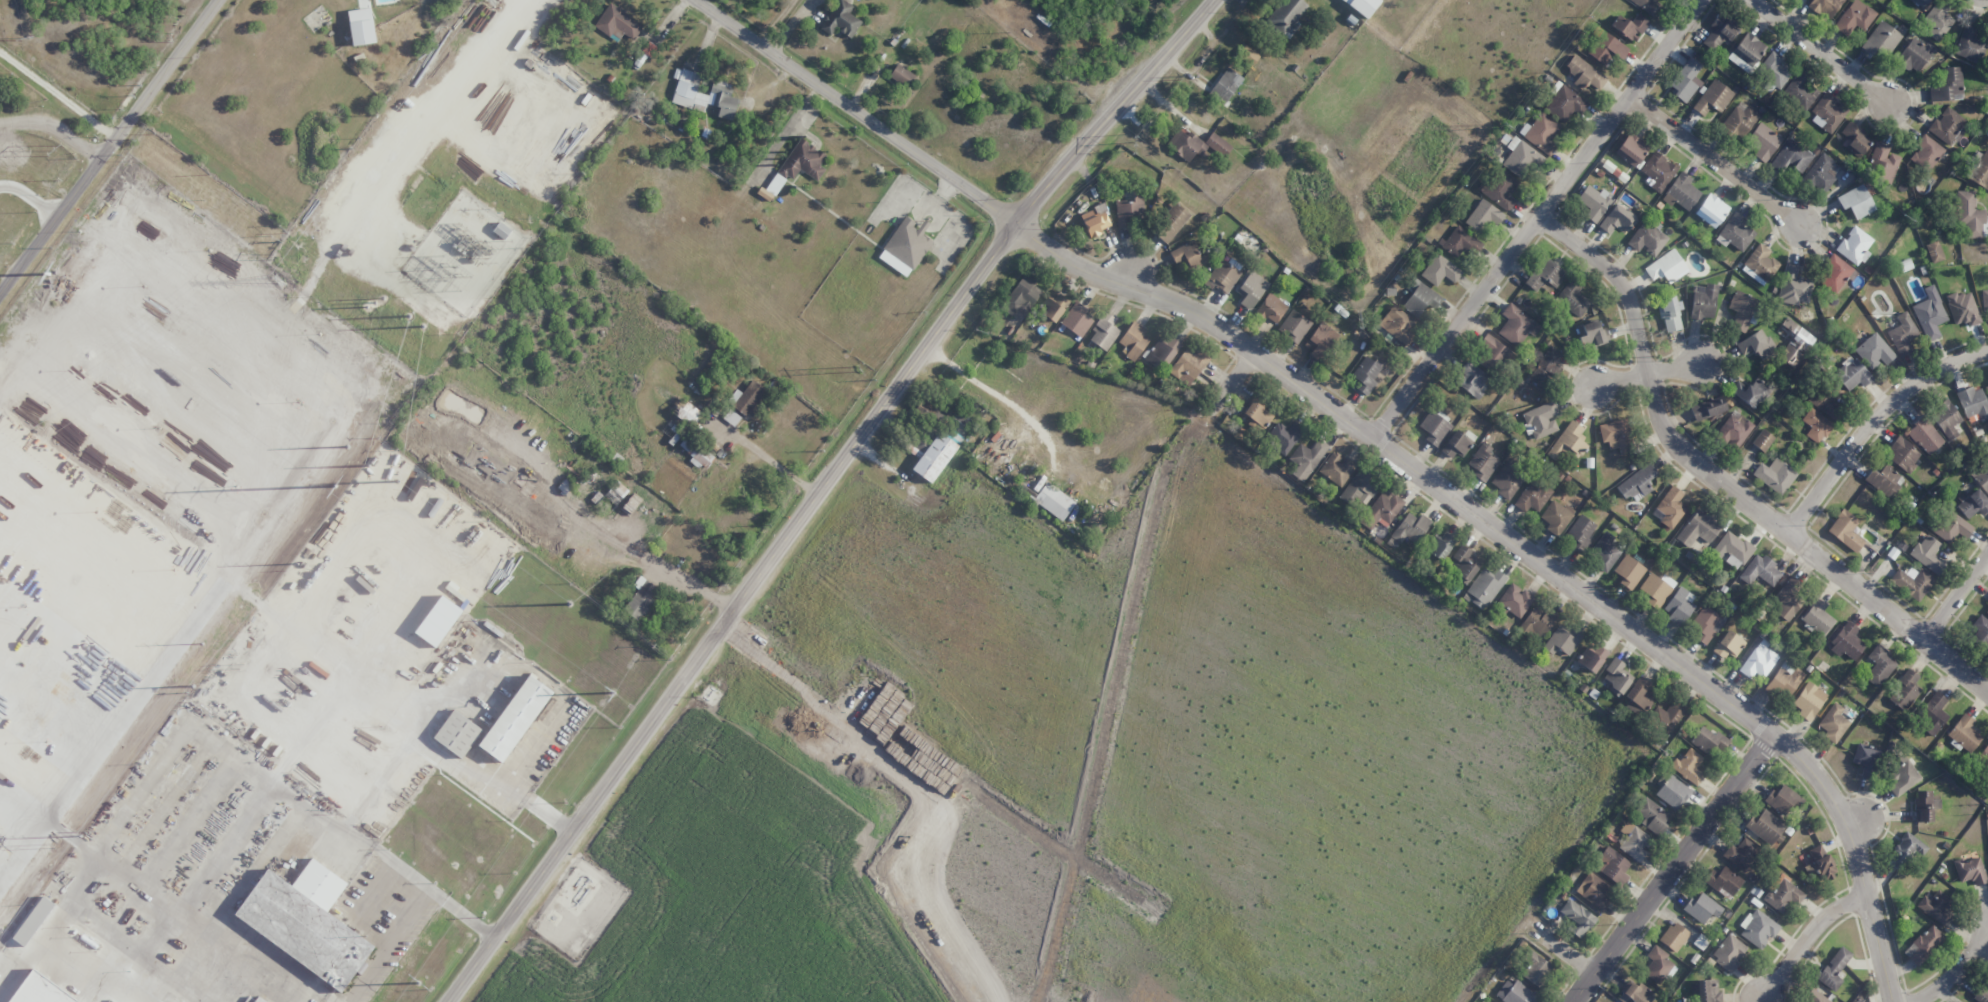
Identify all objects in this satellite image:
power tower: (487, 1)
building: (1919, 2)
building: (1362, 6)
building: (1647, 6)
building: (1825, 7)
building: (1285, 15)
building: (1854, 17)
building: (841, 19)
building: (1936, 22)
building: (618, 23)
building: (1630, 26)
building: (1718, 33)
power tower: (26, 39)
building: (1881, 40)
building: (1971, 45)
building: (1606, 48)
building: (1746, 52)
road: (1825, 53)
building: (1913, 54)
building: (1774, 70)
building: (1584, 73)
building: (901, 75)
building: (0, 80)
building: (1686, 81)
building: (1226, 85)
building: (1948, 86)
building: (688, 90)
building: (1800, 91)
building: (1713, 97)
building: (723, 101)
building: (1564, 103)
building: (1827, 113)
building: (1739, 119)
power tower: (1502, 123)
building: (1947, 125)
road: (54, 129)
building: (1542, 133)
building: (1854, 139)
power tower: (1129, 142)
building: (1763, 142)
building: (1186, 144)
building: (1217, 144)
road: (109, 147)
building: (1631, 149)
power tower: (56, 151)
building: (1926, 153)
road: (1715, 156)
building: (1791, 156)
building: (1521, 157)
building: (1882, 162)
building: (796, 166)
building: (1658, 171)
building: (1981, 171)
building: (1821, 172)
building: (1501, 189)
building: (1, 190)
building: (1681, 192)
building: (1856, 201)
building: (1593, 202)
building: (1711, 210)
building: (1483, 215)
building: (1970, 216)
road: (1538, 218)
building: (1617, 219)
building: (1095, 220)
building: (1171, 223)
building: (501, 230)
building: (1735, 233)
building: (1647, 238)
building: (1460, 241)
building: (1854, 245)
building: (905, 246)
power tower: (272, 249)
power substation: (464, 252)
building: (1934, 252)
building: (1188, 254)
building: (1760, 264)
building: (1666, 267)
building: (1440, 270)
power tower: (47, 273)
building: (1835, 273)
road: (1129, 274)
building: (1545, 275)
building: (1223, 276)
power tower: (278, 281)
building: (1793, 287)
building: (1251, 290)
building: (1021, 297)
building: (1572, 297)
building: (1420, 298)
building: (1984, 299)
building: (1704, 302)
power tower: (376, 303)
building: (1053, 307)
building: (1271, 308)
building: (1742, 310)
building: (1929, 313)
building: (1669, 314)
power tower: (409, 316)
power tower: (1354, 319)
building: (1077, 320)
building: (1295, 324)
building: (1397, 325)
building: (1517, 325)
power tower: (424, 326)
building: (1104, 332)
building: (1590, 333)
building: (1902, 334)
building: (1802, 339)
building: (1133, 341)
building: (1320, 341)
building: (1756, 344)
building: (1873, 351)
building: (1160, 353)
building: (1494, 355)
building: (1188, 365)
building: (1545, 368)
power tower: (856, 369)
road: (1647, 370)
building: (1852, 374)
building: (1365, 375)
building: (1471, 379)
road: (1232, 383)
building: (1986, 388)
building: (1750, 392)
building: (748, 398)
building: (1824, 402)
building: (1973, 403)
building: (1707, 408)
building: (688, 413)
building: (1256, 416)
building: (1946, 419)
building: (1540, 420)
road: (1875, 424)
building: (1816, 425)
building: (1434, 428)
building: (1734, 429)
building: (1616, 435)
building: (1924, 435)
building: (1283, 436)
road: (1368, 436)
building: (1763, 440)
building: (1567, 442)
building: (1456, 444)
power tower: (349, 446)
building: (695, 452)
building: (1902, 454)
building: (934, 457)
building: (1306, 458)
road: (769, 460)
building: (1482, 462)
power tower: (369, 466)
building: (1336, 468)
building: (1774, 475)
building: (1982, 477)
building: (1508, 479)
building: (1882, 479)
power tower: (398, 480)
building: (1637, 482)
road: (1722, 483)
building: (1358, 488)
power tower: (336, 489)
road: (821, 492)
building: (598, 493)
building: (1532, 496)
building: (1054, 500)
building: (1973, 503)
building: (1669, 507)
building: (1385, 508)
building: (1555, 516)
building: (1951, 527)
building: (1408, 529)
building: (1845, 530)
building: (1580, 531)
building: (1439, 545)
building: (1732, 547)
building: (1604, 550)
building: (1928, 554)
power tower: (298, 563)
building: (1463, 563)
building: (1760, 570)
building: (1629, 571)
building: (1912, 582)
building: (1485, 587)
building: (1655, 589)
building: (1787, 597)
road: (1956, 598)
building: (640, 599)
building: (1515, 600)
power tower: (569, 602)
building: (1679, 605)
building: (1986, 610)
building: (1817, 616)
building: (438, 621)
building: (1537, 621)
building: (1705, 624)
building: (1979, 632)
building: (1561, 640)
building: (1846, 641)
power tower: (204, 642)
building: (1728, 645)
building: (1591, 658)
building: (1759, 662)
building: (1879, 665)
building: (1615, 677)
building: (1784, 680)
power tower: (194, 686)
building: (1904, 691)
power tower: (611, 692)
building: (1640, 692)
building: (1809, 699)
building: (1934, 711)
building: (1666, 716)
building: (515, 718)
building: (1833, 723)
building: (457, 733)
building: (1964, 733)
building: (1708, 740)
building: (1984, 754)
building: (1867, 759)
building: (1689, 765)
crop: (1095, 769)
building: (1901, 777)
building: (1673, 792)
building: (1782, 799)
building: (1923, 806)
building: (1651, 816)
road: (1856, 819)
building: (1765, 825)
power tower: (81, 837)
building: (1634, 841)
power tower: (54, 845)
building: (1904, 850)
building: (1741, 854)
building: (1815, 859)
building: (1612, 865)
road: (1672, 868)
building: (1969, 870)
building: (1723, 881)
building: (1595, 891)
building: (1783, 895)
building: (1702, 907)
building: (1935, 907)
building: (1577, 918)
building: (33, 921)
building: (305, 922)
building: (1757, 928)
building: (1674, 936)
road: (1806, 937)
building: (1923, 944)
building: (1728, 952)
road: (1565, 953)
building: (1657, 964)
building: (1534, 968)
building: (1833, 969)
road: (1955, 971)
power tower: (415, 982)
building: (38, 991)
building: (1708, 991)
building: (1514, 992)
building: (1634, 992)
building: (1981, 994)
building: (1816, 997)
building: (259, 1000)

